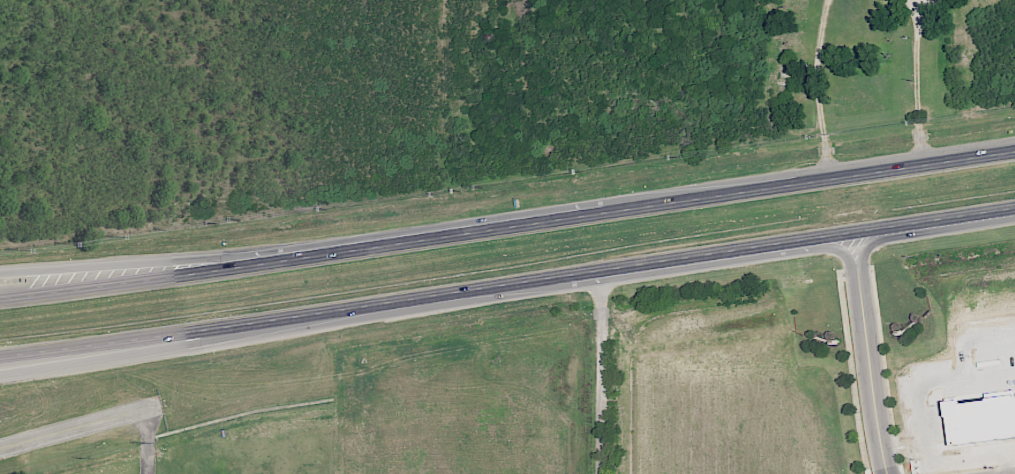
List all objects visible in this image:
road: (915, 81)
road: (817, 87)
road: (507, 224)
road: (865, 242)
road: (839, 246)
road: (182, 259)
road: (507, 283)
road: (987, 336)
road: (145, 349)
road: (962, 358)
road: (869, 369)
road: (600, 371)
road: (965, 376)
building: (977, 417)
road: (923, 423)
road: (81, 429)
road: (147, 443)
road: (972, 458)
road: (1007, 464)

